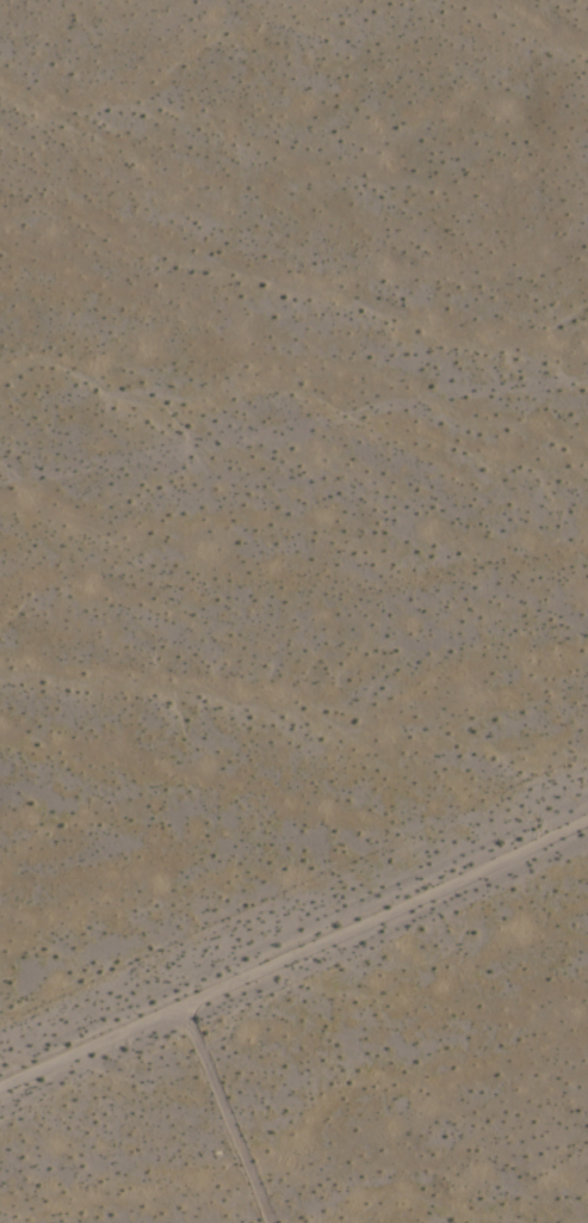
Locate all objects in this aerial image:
road: (293, 990)

